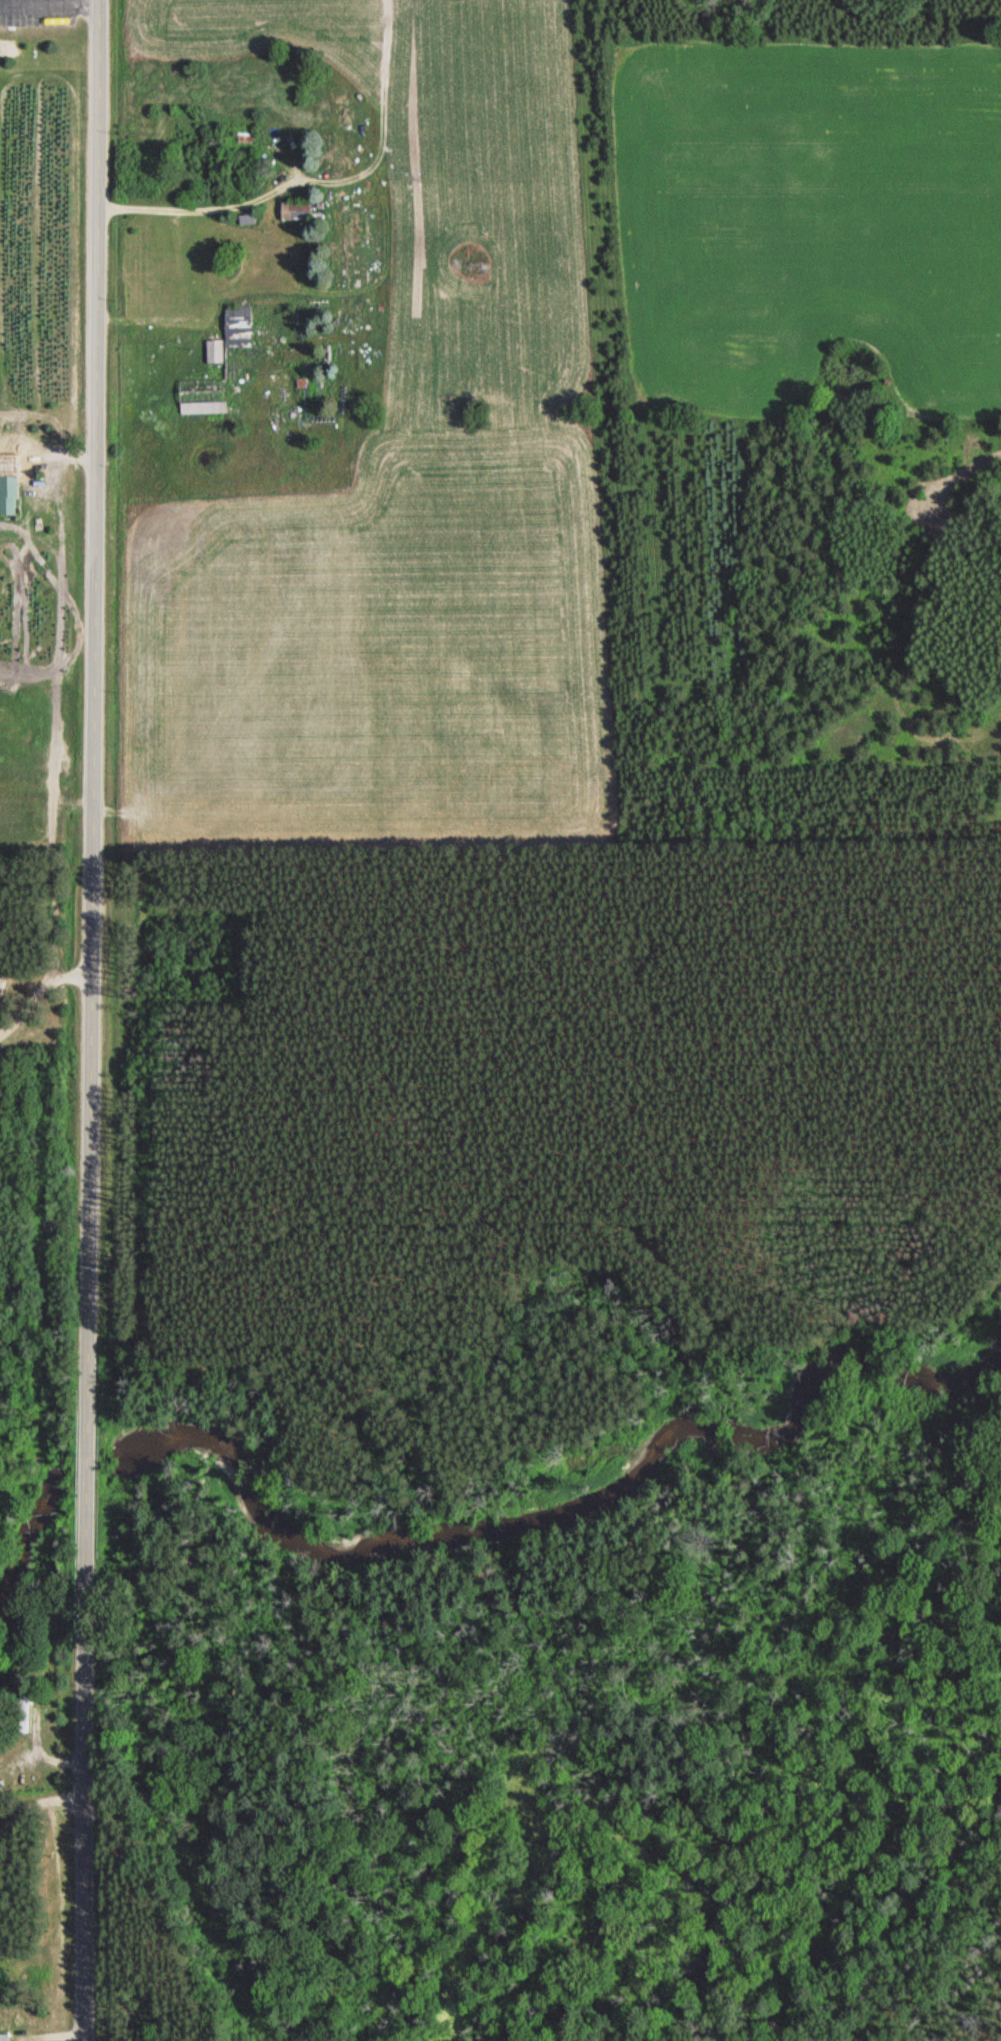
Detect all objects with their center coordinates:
building: (245, 137)
building: (298, 211)
building: (231, 332)
building: (201, 396)
building: (8, 495)
road: (40, 994)
road: (92, 1020)
river: (89, 1463)
river: (559, 1517)
river: (27, 1543)
building: (23, 1712)
road: (44, 1825)
building: (4, 2037)

